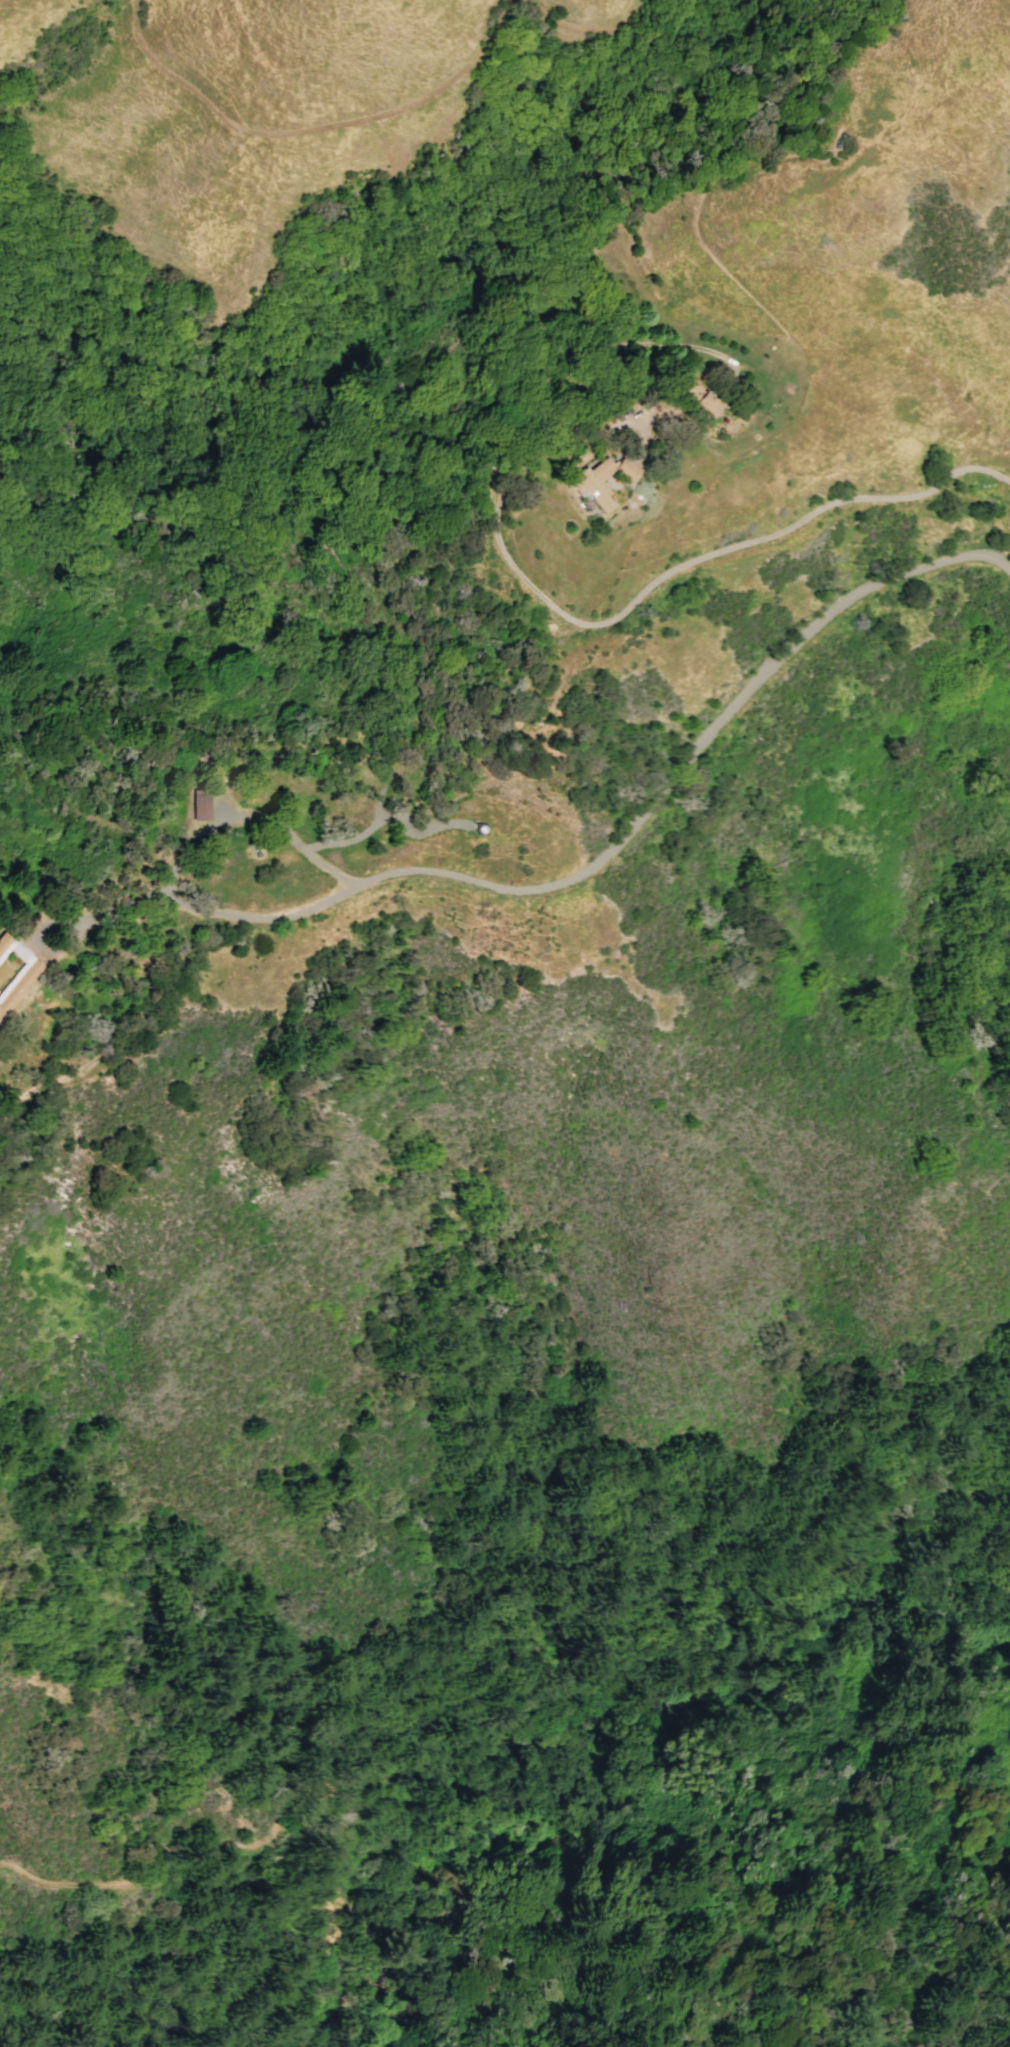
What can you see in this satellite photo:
road: (257, 142)
building: (712, 403)
road: (712, 548)
building: (199, 807)
road: (576, 873)
building: (21, 984)
building: (2, 1013)
road: (116, 1034)
road: (280, 1713)

